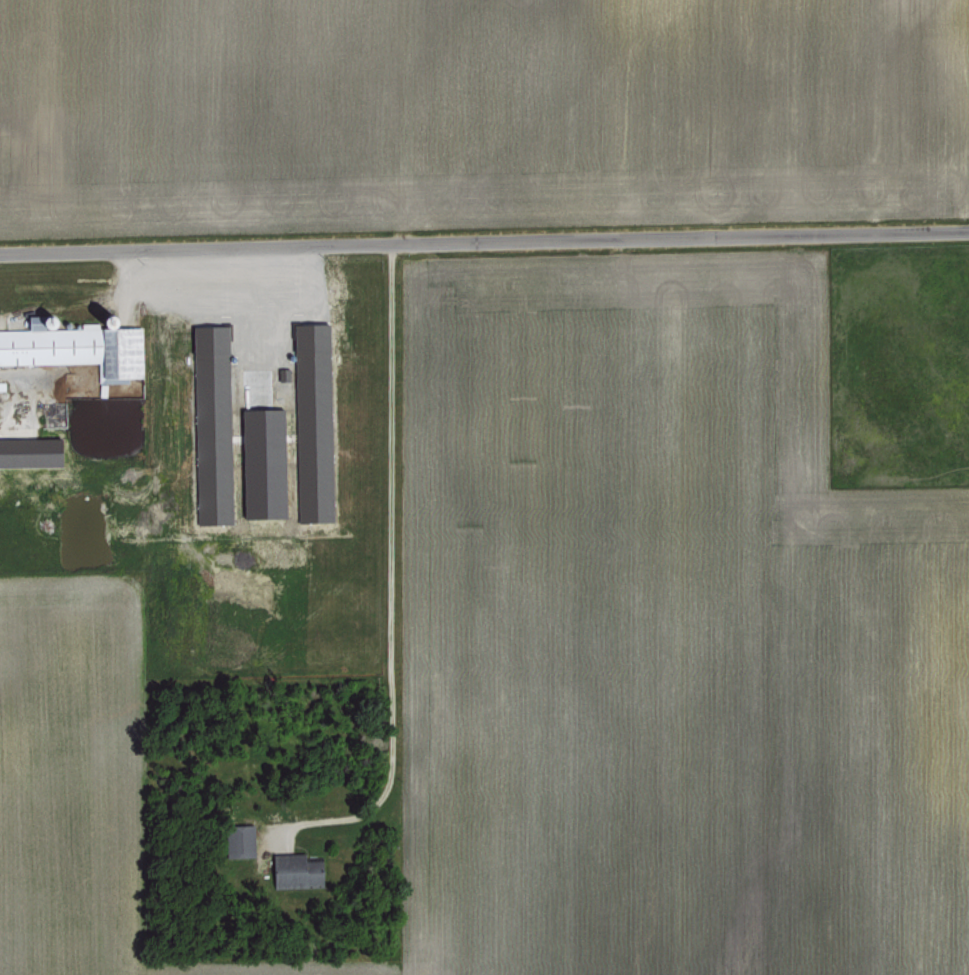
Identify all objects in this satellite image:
road: (484, 241)
building: (75, 346)
building: (281, 373)
building: (311, 421)
building: (211, 423)
building: (28, 450)
building: (261, 462)
road: (388, 576)
building: (238, 840)
building: (292, 869)

